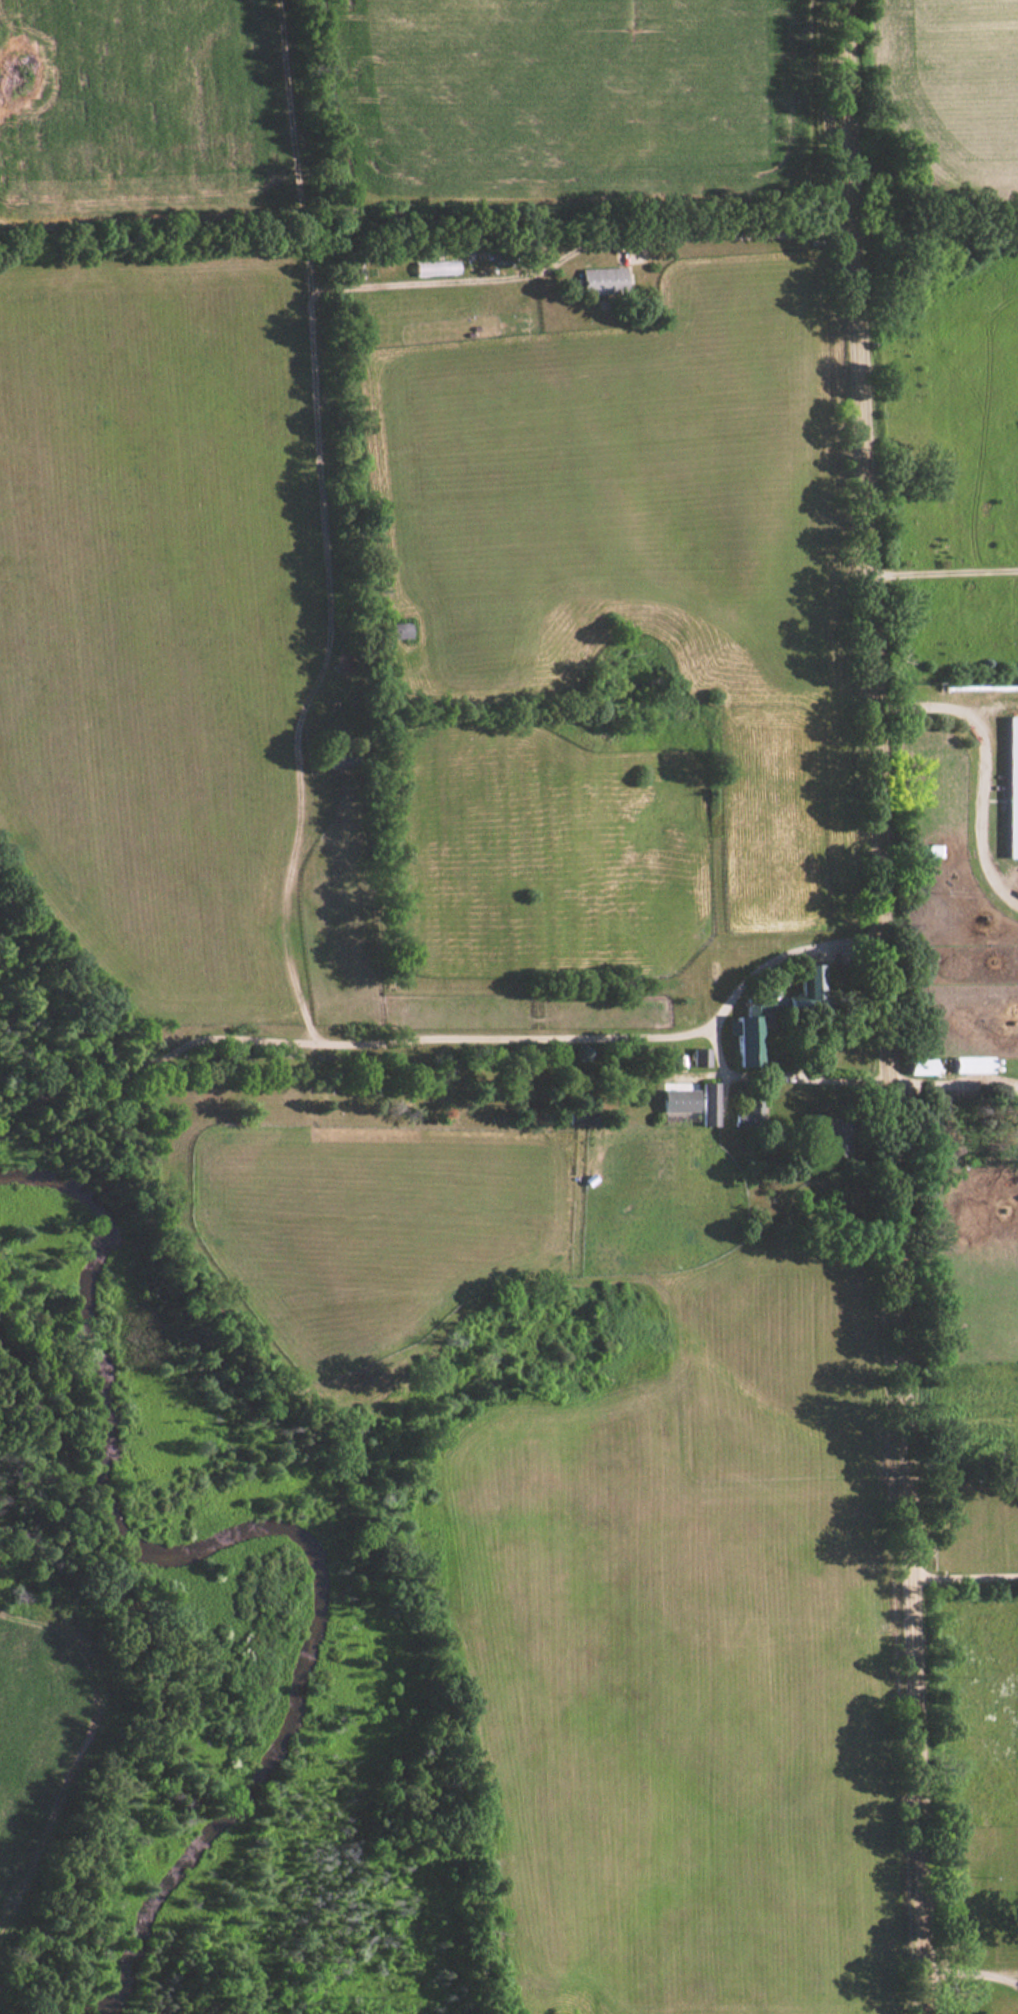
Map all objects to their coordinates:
road: (740, 232)
building: (501, 253)
building: (603, 279)
road: (944, 570)
building: (398, 630)
building: (345, 757)
road: (987, 768)
building: (1013, 786)
building: (813, 979)
road: (888, 1006)
road: (715, 1028)
road: (483, 1032)
building: (747, 1039)
building: (701, 1056)
building: (975, 1063)
building: (922, 1065)
road: (955, 1088)
building: (680, 1099)
building: (709, 1102)
building: (752, 1106)
building: (584, 1114)
building: (837, 1135)
river: (264, 1531)
road: (965, 1572)
road: (973, 1971)

